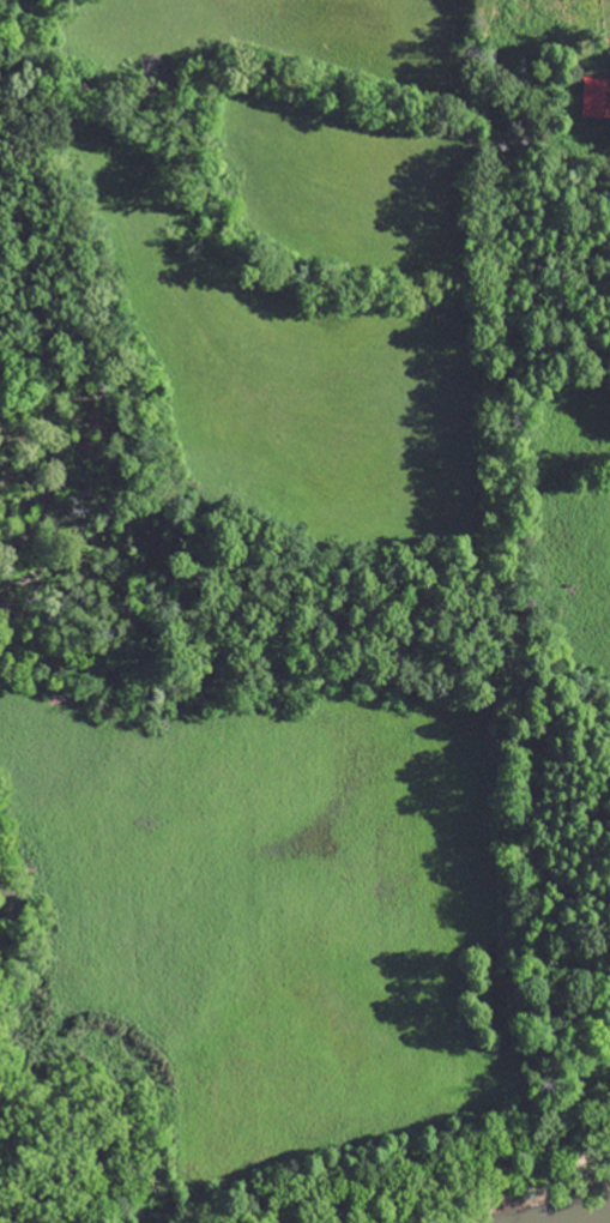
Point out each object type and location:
river: (579, 1212)

